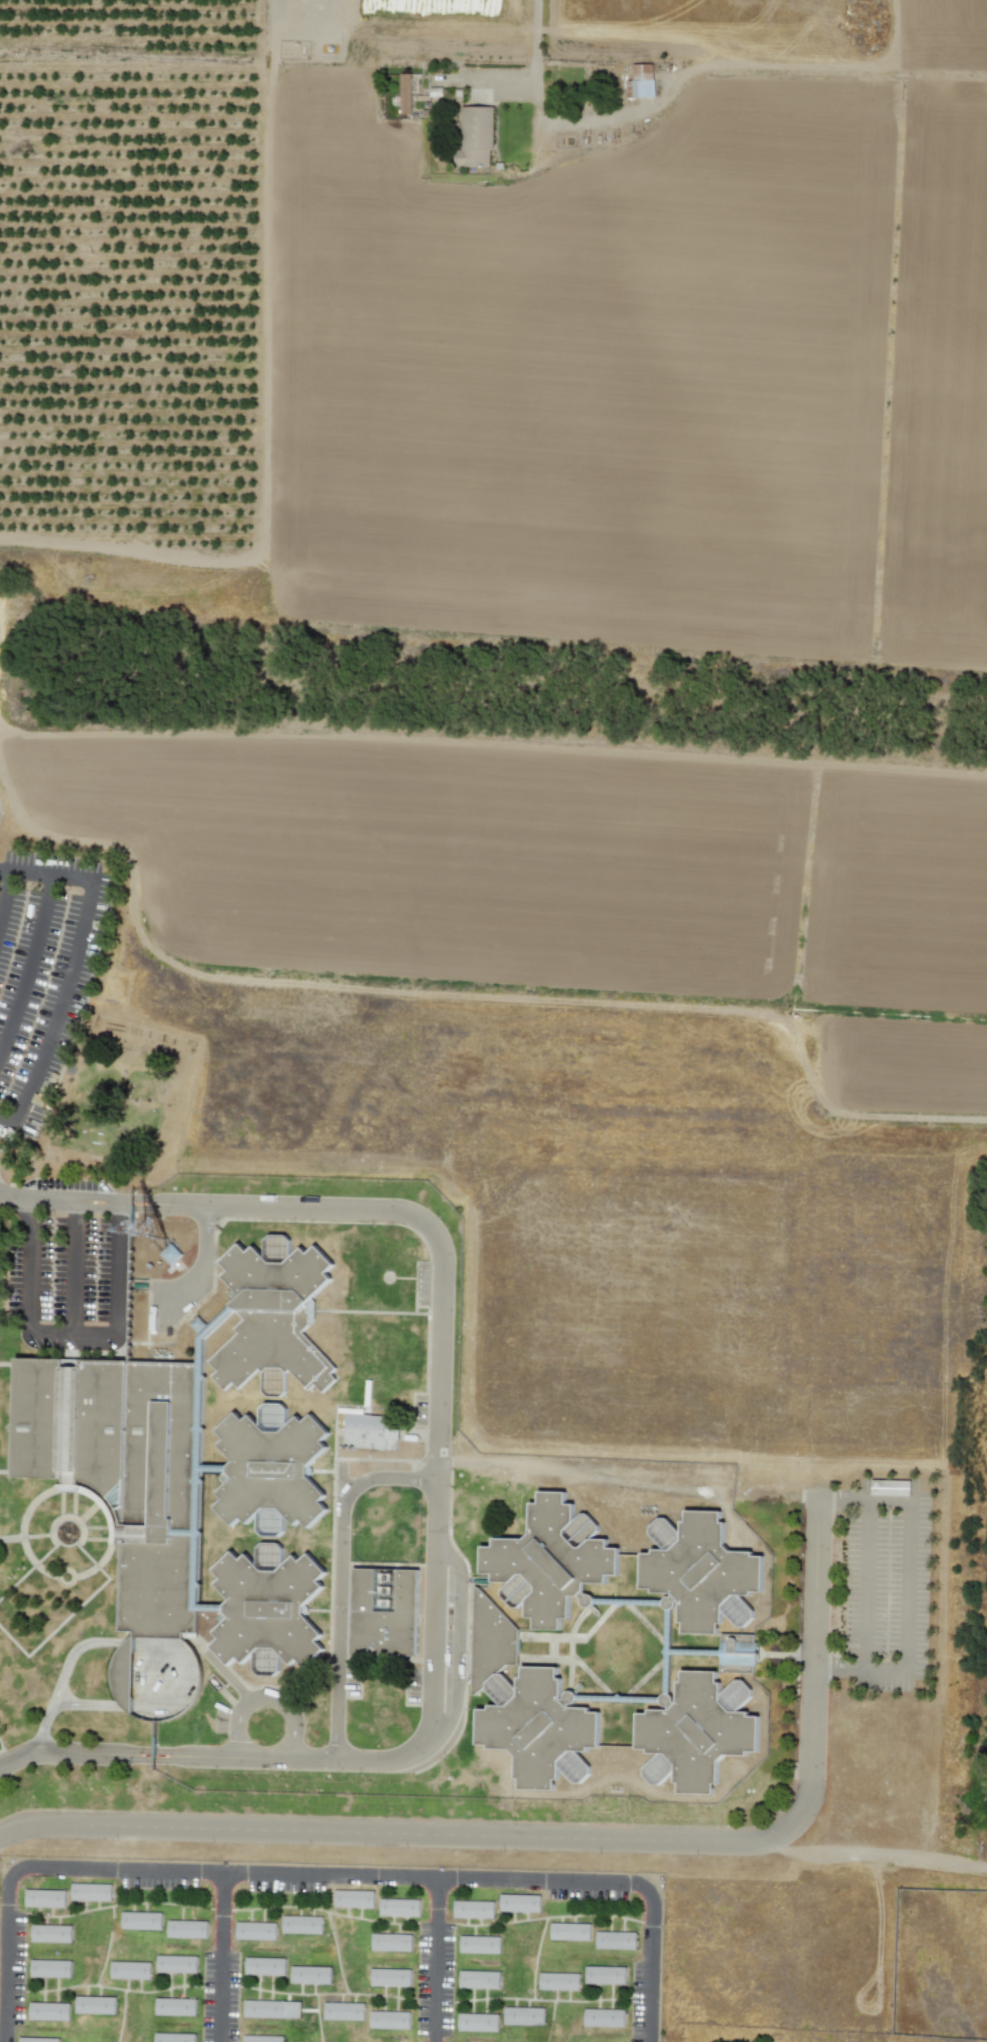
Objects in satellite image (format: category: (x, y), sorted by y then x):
road: (542, 23)
building: (642, 80)
building: (405, 93)
building: (475, 138)
road: (3, 888)
road: (73, 965)
building: (170, 1254)
building: (136, 1307)
building: (276, 1321)
building: (370, 1431)
building: (127, 1473)
building: (273, 1474)
road: (439, 1479)
building: (890, 1487)
building: (554, 1566)
road: (340, 1577)
building: (706, 1577)
road: (863, 1584)
road: (906, 1587)
building: (270, 1614)
building: (387, 1616)
building: (494, 1645)
building: (737, 1653)
building: (123, 1673)
building: (541, 1734)
building: (703, 1737)
road: (567, 1838)
road: (873, 1857)
road: (327, 1877)
building: (90, 1892)
building: (44, 1898)
building: (353, 1898)
building: (519, 1903)
building: (399, 1907)
building: (473, 1909)
building: (141, 1920)
building: (302, 1924)
building: (186, 1929)
building: (256, 1930)
building: (570, 1931)
building: (51, 1933)
building: (615, 1940)
building: (391, 1942)
building: (479, 1944)
road: (224, 1958)
road: (441, 1961)
building: (176, 1964)
building: (264, 1965)
building: (50, 1968)
building: (130, 1970)
building: (310, 1975)
building: (604, 1975)
building: (390, 1977)
building: (478, 1979)
building: (559, 1981)
building: (95, 2005)
building: (175, 2006)
building: (271, 2009)
building: (48, 2011)
building: (343, 2011)
building: (524, 2016)
building: (603, 2017)
building: (388, 2020)
building: (478, 2022)
building: (174, 2037)
building: (38, 2039)
building: (262, 2039)

